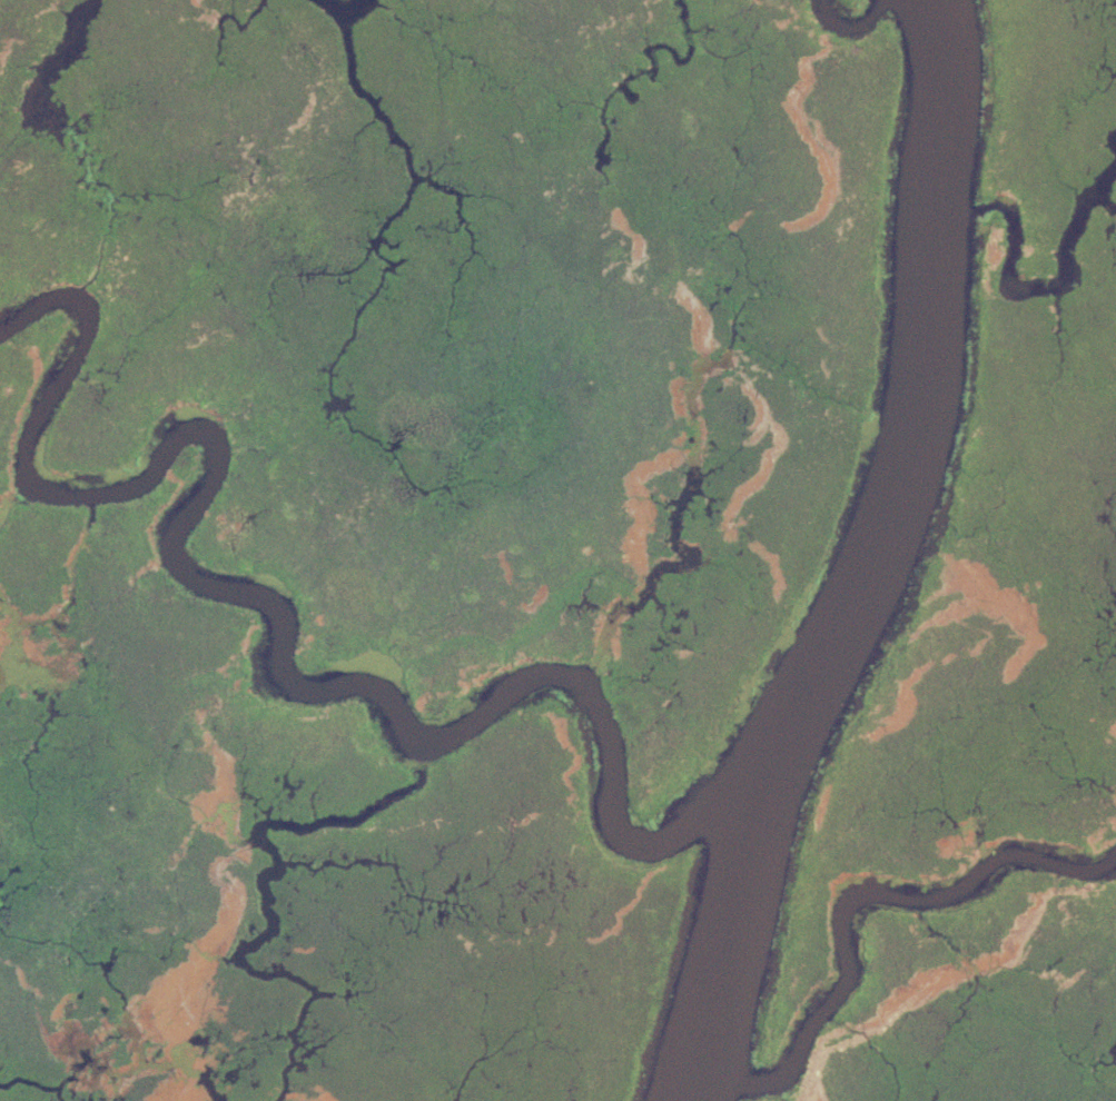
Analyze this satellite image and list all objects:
river: (861, 558)

